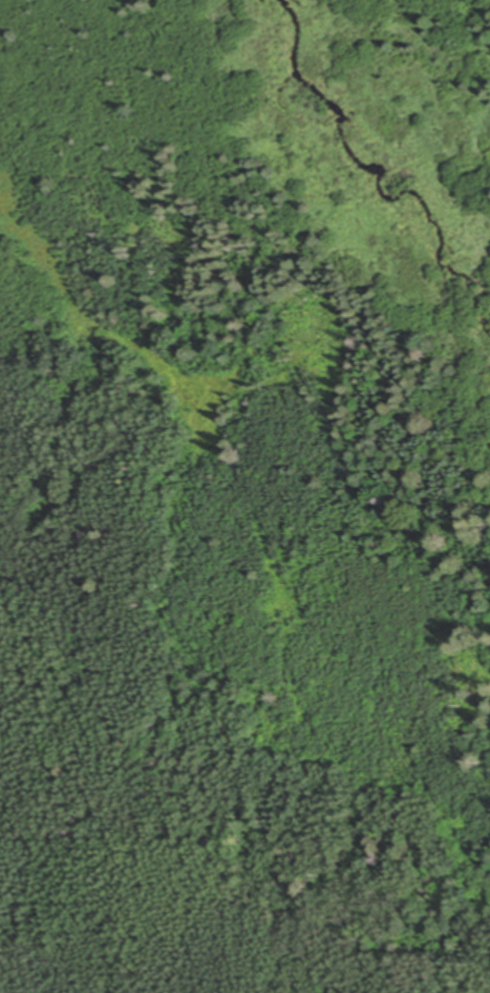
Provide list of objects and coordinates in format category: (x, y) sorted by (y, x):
river: (362, 187)

